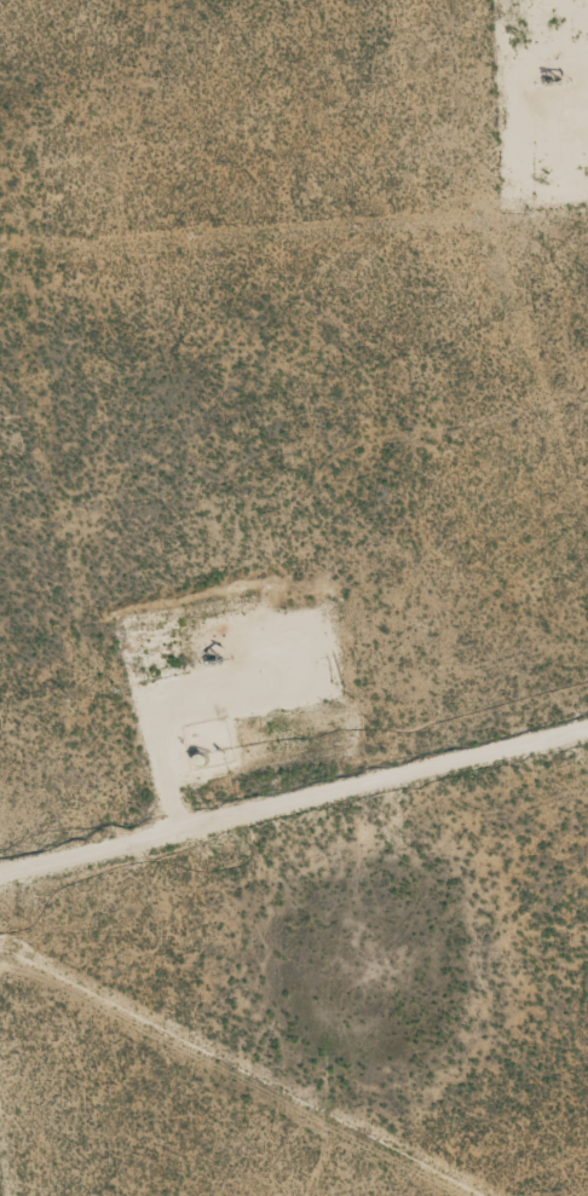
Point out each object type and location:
road: (294, 804)

